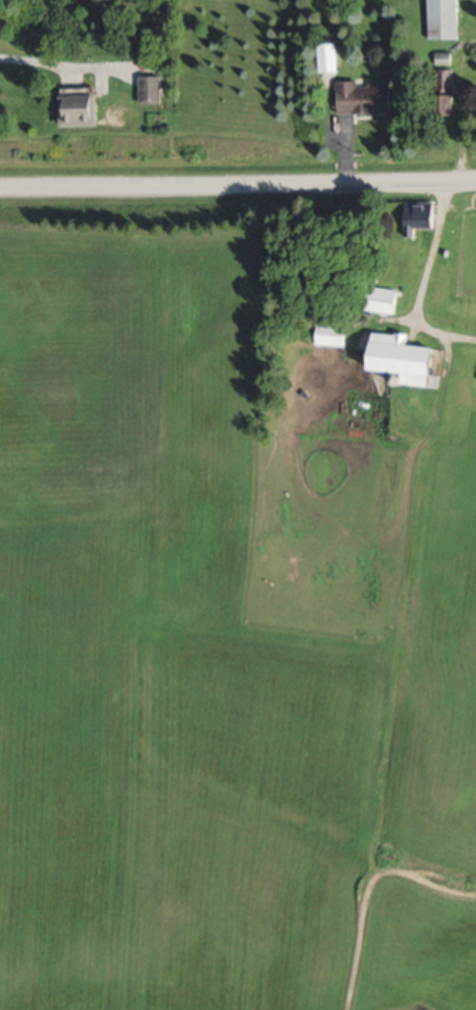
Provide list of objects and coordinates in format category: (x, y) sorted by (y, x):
building: (442, 19)
building: (326, 57)
building: (440, 58)
building: (148, 89)
building: (361, 97)
building: (79, 109)
road: (238, 185)
building: (418, 217)
building: (383, 300)
building: (336, 330)
building: (401, 358)

